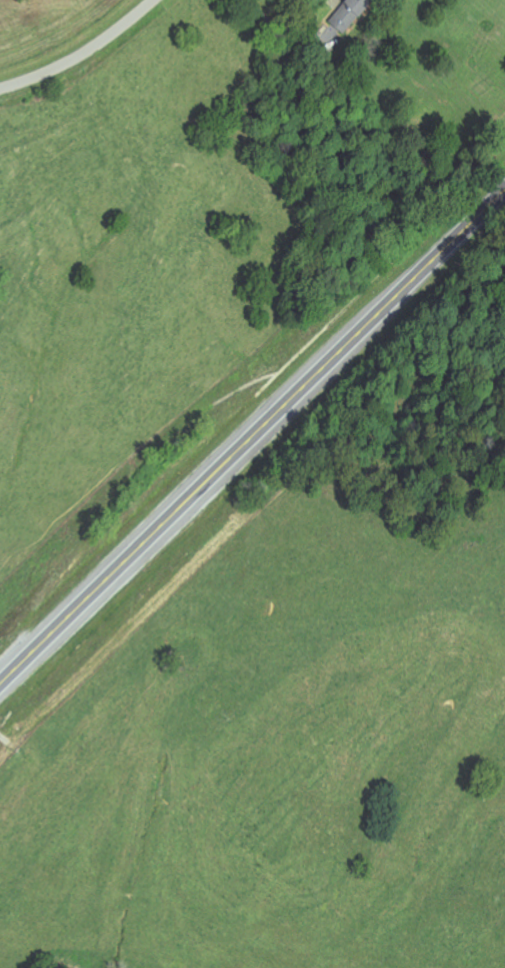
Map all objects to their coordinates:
building: (351, 14)
road: (83, 53)
road: (253, 439)

